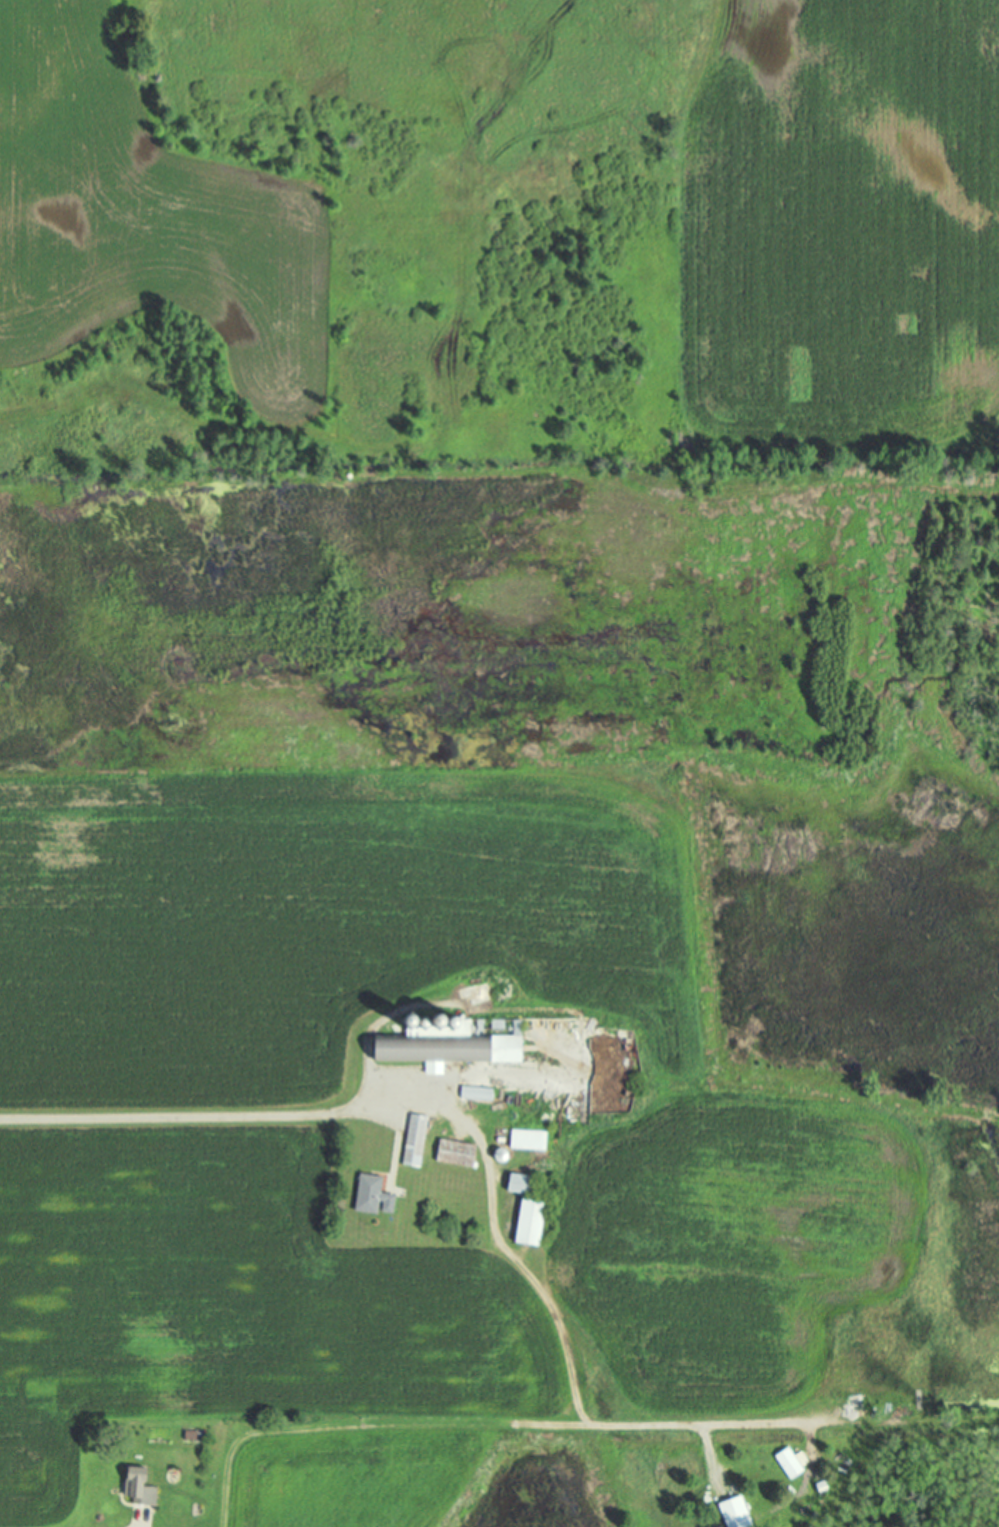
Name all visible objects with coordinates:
building: (455, 1039)
road: (191, 1117)
building: (507, 1119)
building: (416, 1139)
building: (458, 1152)
building: (524, 1183)
building: (376, 1196)
building: (532, 1220)
building: (791, 1462)
building: (144, 1489)

